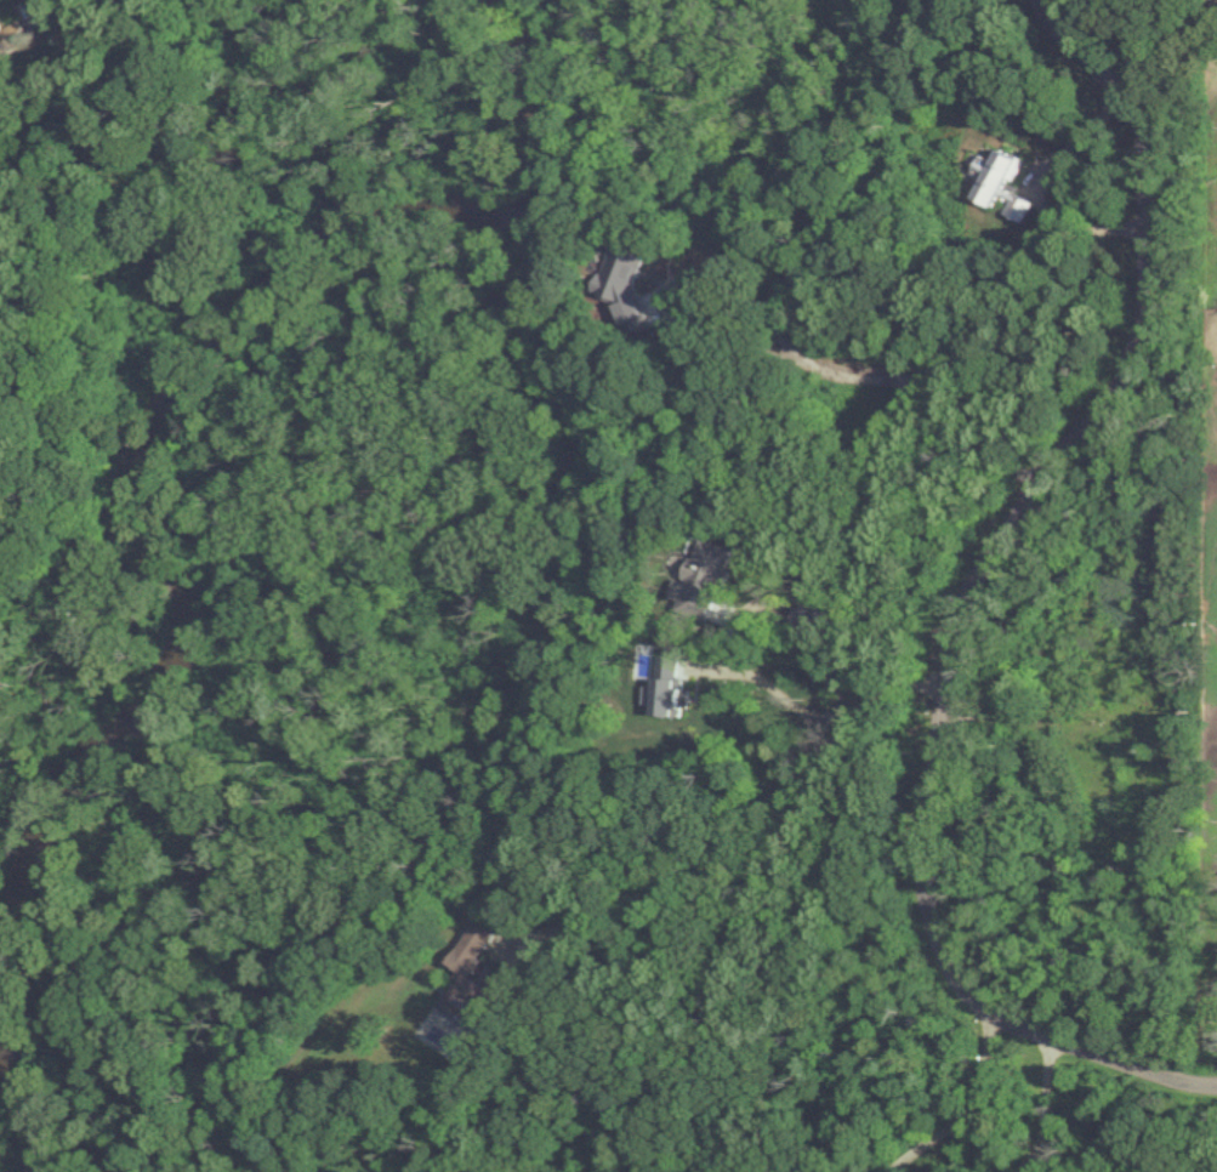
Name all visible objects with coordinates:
building: (10, 33)
building: (1000, 186)
road: (1033, 189)
river: (165, 382)
road: (851, 398)
road: (963, 590)
road: (821, 712)
crop: (1209, 722)
road: (753, 905)
building: (478, 979)
road: (971, 1103)
road: (1036, 1105)
river: (27, 1119)

